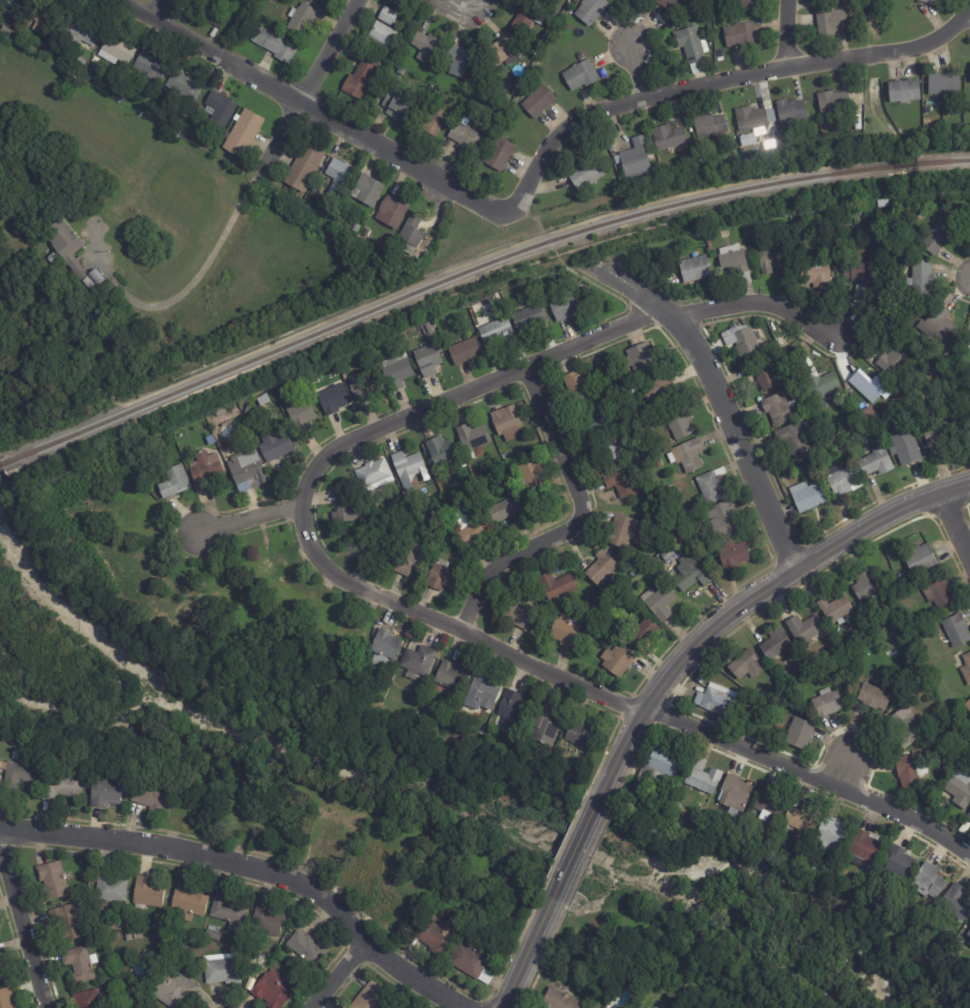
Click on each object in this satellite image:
building: (823, 0)
building: (9, 1)
building: (321, 1)
building: (22, 2)
building: (846, 2)
building: (929, 2)
road: (456, 3)
building: (746, 5)
building: (672, 6)
road: (158, 9)
building: (590, 11)
building: (207, 12)
building: (41, 16)
building: (566, 16)
building: (388, 18)
building: (300, 20)
building: (526, 21)
building: (832, 23)
road: (969, 24)
building: (116, 28)
building: (81, 29)
road: (782, 35)
building: (740, 36)
building: (357, 39)
building: (380, 39)
building: (274, 46)
building: (425, 48)
building: (691, 49)
building: (116, 50)
building: (43, 51)
building: (501, 54)
building: (81, 61)
building: (95, 61)
building: (457, 63)
building: (148, 70)
building: (400, 72)
road: (635, 73)
building: (90, 74)
building: (438, 75)
building: (581, 76)
building: (364, 77)
building: (969, 80)
road: (719, 84)
building: (944, 84)
building: (106, 86)
building: (181, 86)
road: (312, 90)
building: (904, 91)
building: (121, 97)
building: (856, 98)
building: (538, 102)
building: (833, 102)
building: (395, 108)
building: (218, 109)
road: (313, 111)
building: (791, 111)
building: (752, 118)
building: (431, 122)
building: (857, 122)
building: (709, 125)
building: (242, 133)
building: (668, 137)
building: (466, 139)
building: (747, 139)
building: (700, 143)
building: (499, 156)
building: (634, 158)
building: (303, 168)
building: (585, 174)
building: (337, 177)
building: (615, 185)
building: (368, 190)
building: (852, 209)
building: (391, 212)
building: (339, 219)
building: (354, 229)
building: (366, 233)
building: (410, 235)
building: (937, 236)
building: (65, 246)
building: (381, 248)
building: (800, 248)
building: (809, 256)
building: (772, 258)
building: (736, 262)
building: (802, 262)
railway: (476, 266)
building: (858, 267)
building: (695, 269)
building: (819, 274)
building: (921, 280)
building: (92, 281)
road: (190, 284)
building: (531, 286)
building: (861, 293)
building: (543, 298)
building: (564, 304)
road: (755, 306)
building: (498, 307)
building: (527, 320)
building: (938, 324)
building: (497, 331)
building: (788, 336)
building: (742, 340)
building: (777, 343)
building: (496, 345)
building: (765, 348)
building: (465, 351)
building: (952, 351)
building: (889, 358)
building: (427, 360)
building: (640, 360)
building: (396, 371)
building: (810, 374)
building: (763, 375)
building: (628, 381)
building: (869, 387)
building: (363, 388)
building: (578, 388)
building: (659, 389)
building: (823, 389)
road: (721, 390)
building: (332, 398)
building: (777, 408)
building: (299, 415)
building: (591, 418)
building: (679, 422)
building: (507, 423)
building: (939, 435)
building: (472, 437)
building: (793, 438)
building: (274, 445)
park: (1, 449)
building: (610, 449)
building: (905, 449)
building: (441, 451)
building: (687, 455)
railway: (4, 461)
building: (876, 463)
building: (246, 467)
building: (204, 469)
building: (408, 469)
building: (373, 476)
building: (530, 476)
building: (173, 482)
building: (621, 482)
building: (843, 482)
building: (711, 486)
building: (808, 496)
building: (688, 508)
building: (343, 510)
building: (505, 511)
building: (722, 519)
road: (957, 520)
road: (250, 522)
road: (573, 523)
building: (470, 530)
building: (622, 532)
building: (348, 536)
building: (448, 540)
building: (377, 548)
building: (668, 555)
building: (733, 555)
building: (410, 559)
building: (922, 559)
building: (675, 562)
building: (601, 570)
building: (690, 574)
building: (632, 575)
building: (442, 576)
building: (659, 579)
building: (867, 584)
building: (556, 586)
building: (940, 594)
road: (744, 600)
building: (658, 602)
building: (836, 608)
building: (516, 615)
road: (419, 616)
building: (877, 624)
building: (805, 627)
building: (956, 629)
building: (565, 632)
building: (642, 635)
building: (776, 642)
building: (383, 648)
building: (417, 661)
building: (617, 661)
building: (746, 664)
building: (966, 668)
building: (449, 677)
building: (701, 678)
building: (482, 695)
building: (874, 695)
building: (716, 699)
building: (829, 701)
building: (968, 703)
building: (793, 706)
building: (512, 711)
building: (955, 714)
building: (544, 726)
building: (906, 726)
building: (480, 730)
building: (799, 732)
building: (581, 734)
building: (7, 741)
building: (962, 753)
building: (50, 758)
building: (657, 768)
building: (908, 772)
building: (113, 773)
road: (844, 774)
building: (703, 776)
building: (21, 777)
building: (62, 786)
building: (958, 790)
building: (734, 791)
building: (105, 793)
building: (150, 798)
building: (705, 800)
building: (768, 803)
building: (677, 806)
building: (969, 817)
building: (803, 819)
building: (833, 833)
building: (864, 847)
building: (360, 850)
road: (571, 859)
building: (900, 861)
building: (808, 866)
road: (256, 871)
building: (51, 881)
building: (928, 881)
building: (109, 888)
building: (147, 893)
building: (83, 900)
building: (956, 901)
building: (187, 903)
building: (229, 912)
building: (267, 921)
building: (65, 923)
building: (135, 926)
building: (178, 928)
road: (21, 931)
building: (969, 933)
building: (212, 934)
building: (136, 935)
building: (127, 936)
building: (435, 937)
building: (221, 938)
building: (179, 942)
building: (969, 942)
building: (307, 948)
building: (931, 956)
road: (523, 961)
building: (472, 962)
building: (79, 963)
building: (221, 967)
building: (4, 971)
road: (335, 975)
building: (104, 983)
building: (249, 984)
building: (172, 988)
building: (271, 991)
building: (370, 997)
building: (9, 998)
building: (89, 999)
building: (559, 1000)
building: (590, 1007)
building: (591, 1007)
building: (604, 1007)

